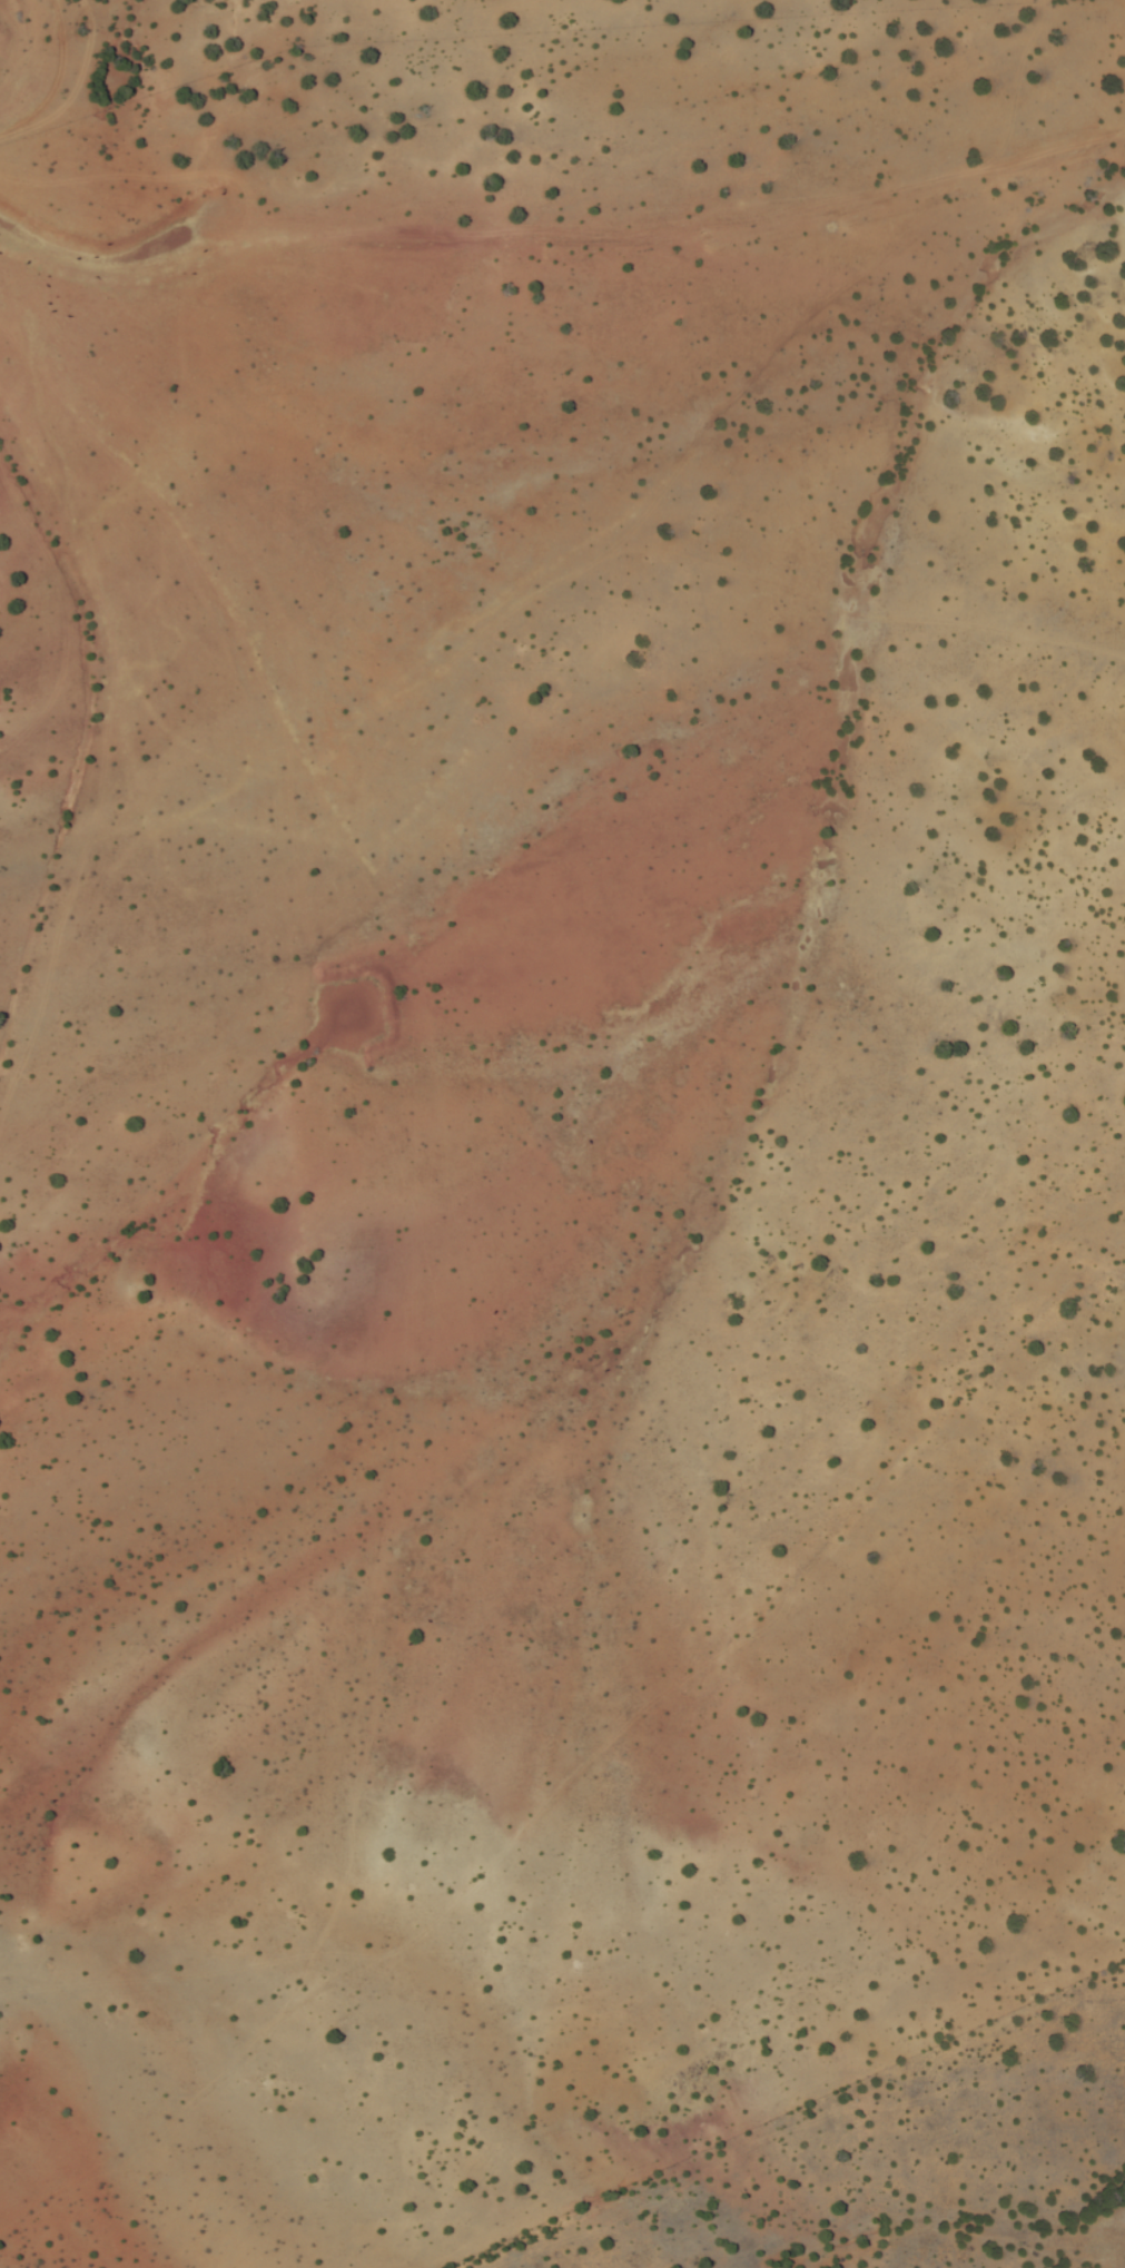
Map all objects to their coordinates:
road: (568, 210)
road: (728, 2094)

